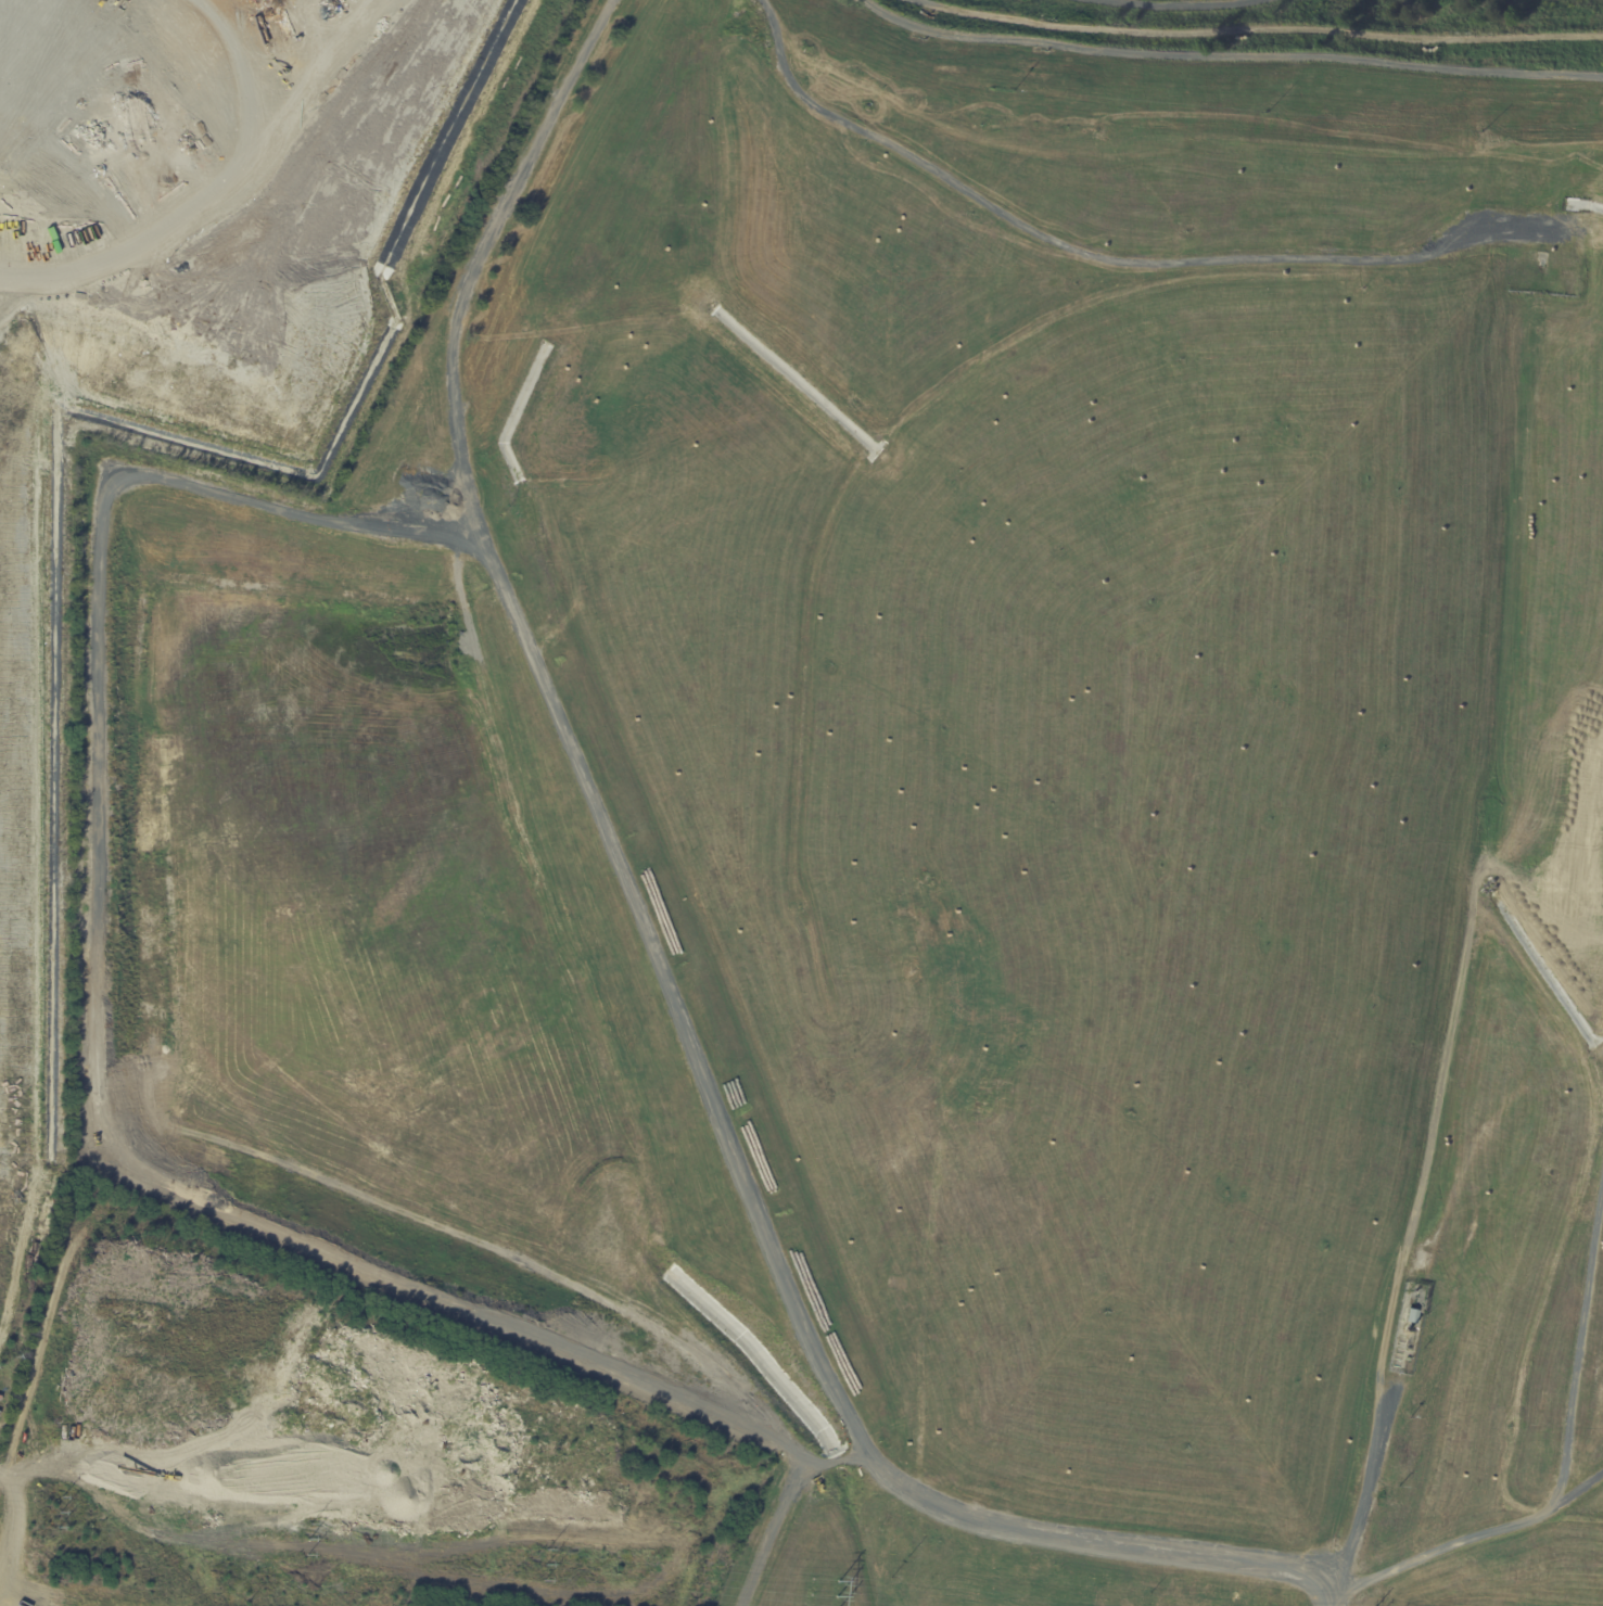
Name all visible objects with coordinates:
road: (1178, 5)
road: (1257, 29)
road: (1227, 60)
road: (284, 256)
road: (1096, 258)
landfill: (203, 286)
landfill: (940, 790)
road: (653, 959)
building: (5, 1302)
building: (1410, 1317)
building: (0, 1398)
building: (0, 1413)
road: (1363, 1493)
road: (781, 1509)
power tower: (60, 1512)
power tower: (306, 1538)
power tower: (544, 1562)
power tower: (840, 1592)
road: (1332, 1594)

